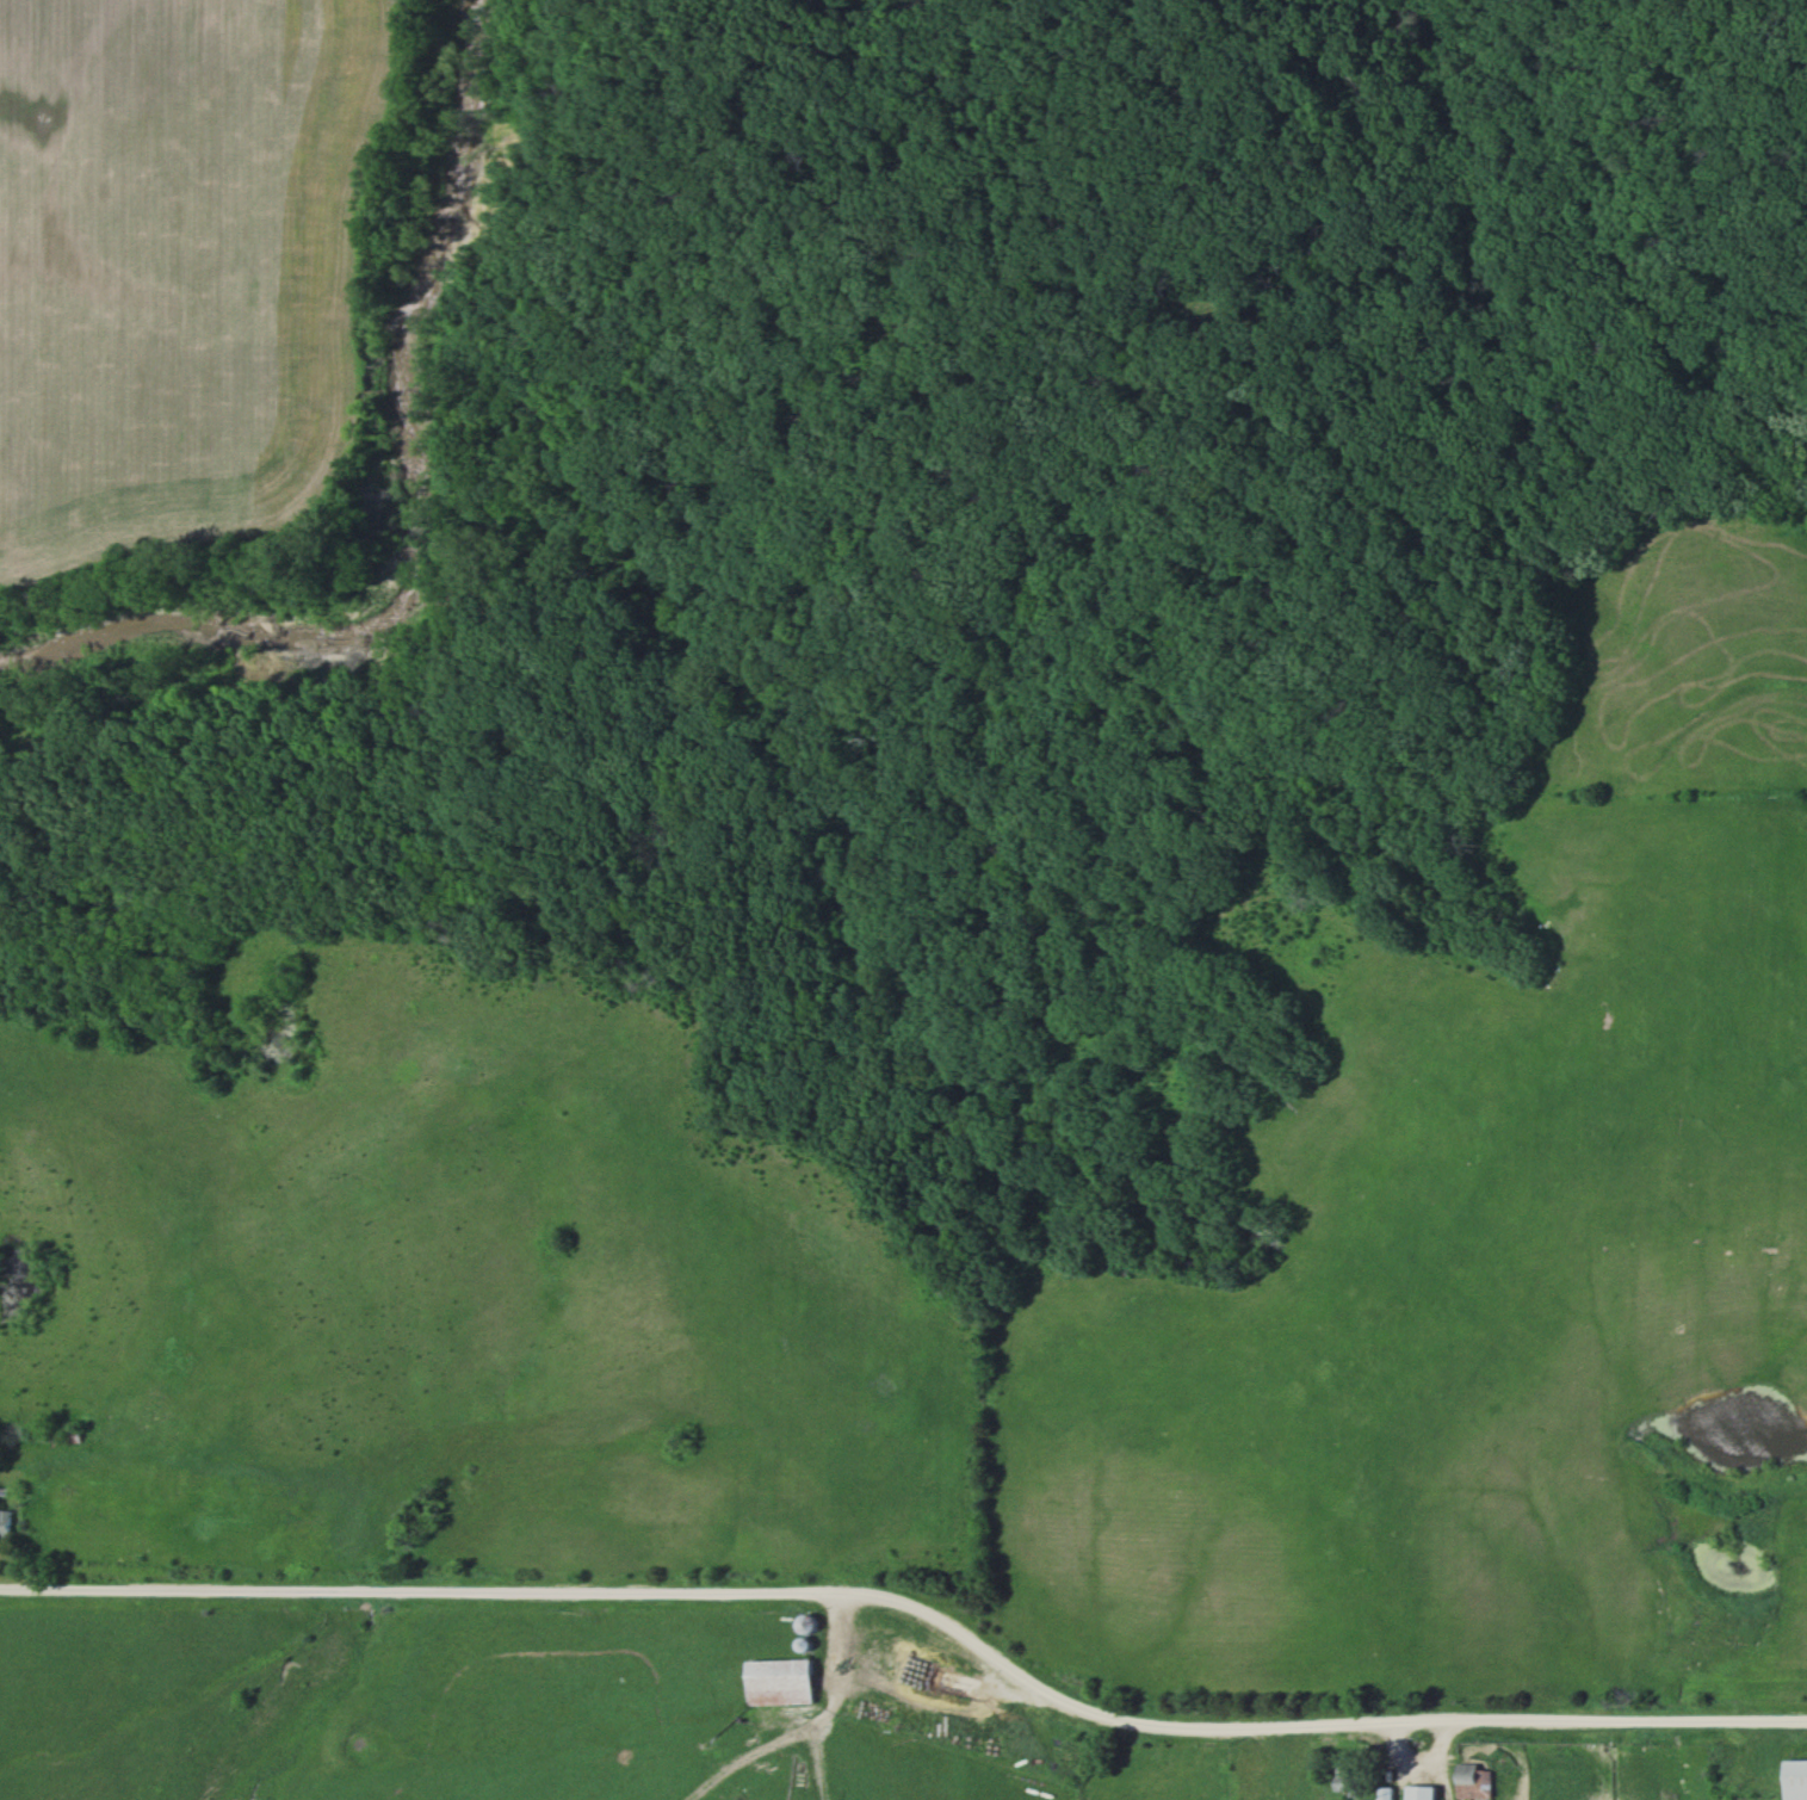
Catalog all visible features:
park: (1189, 308)
building: (6, 1523)
road: (916, 1608)
building: (802, 1625)
building: (775, 1681)
building: (1791, 1780)
building: (1467, 1781)
building: (1382, 1793)
building: (1416, 1793)

